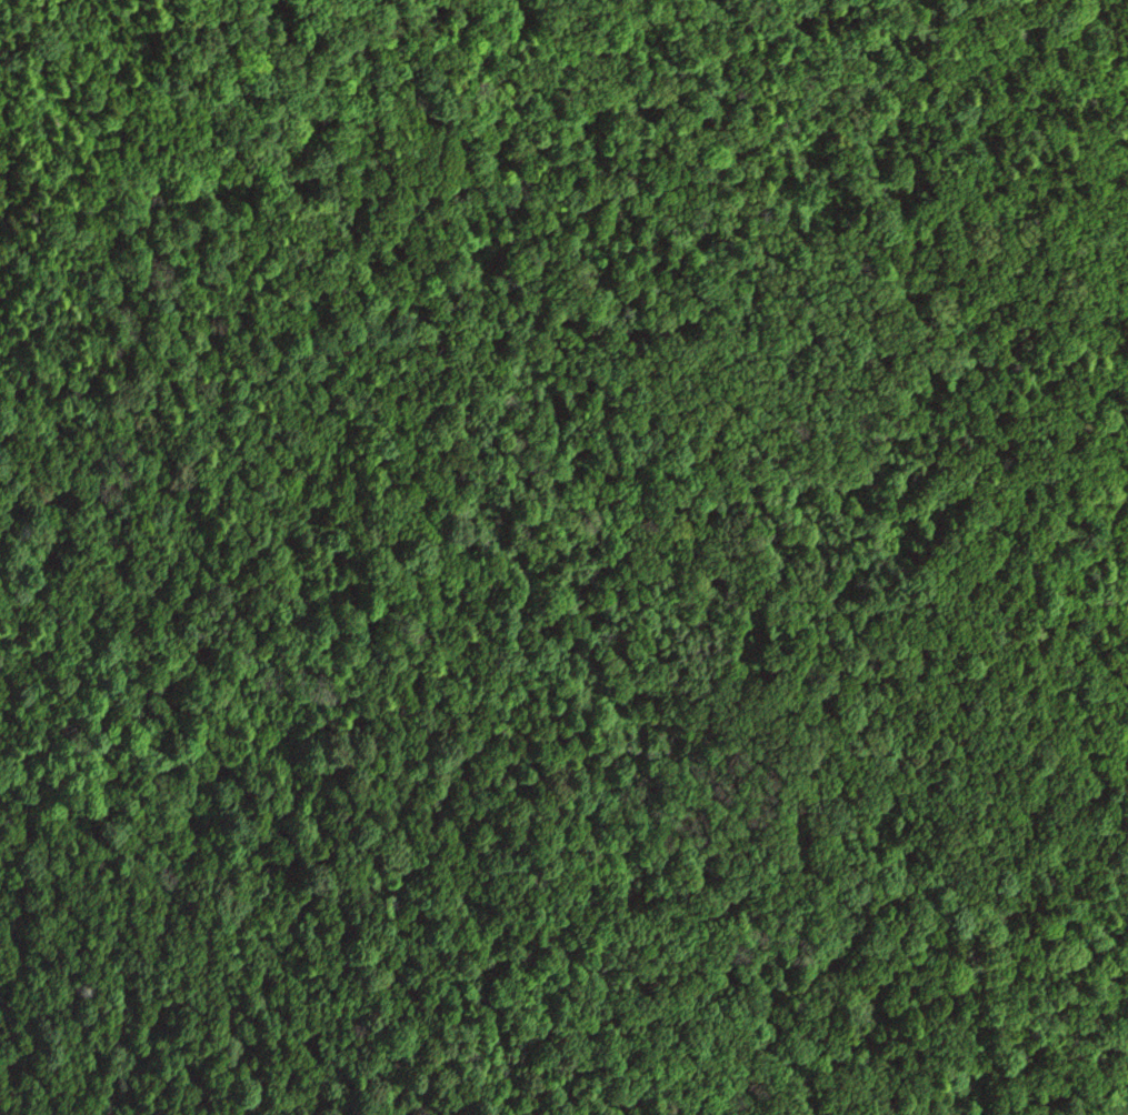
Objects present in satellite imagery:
road: (153, 381)
road: (320, 585)

